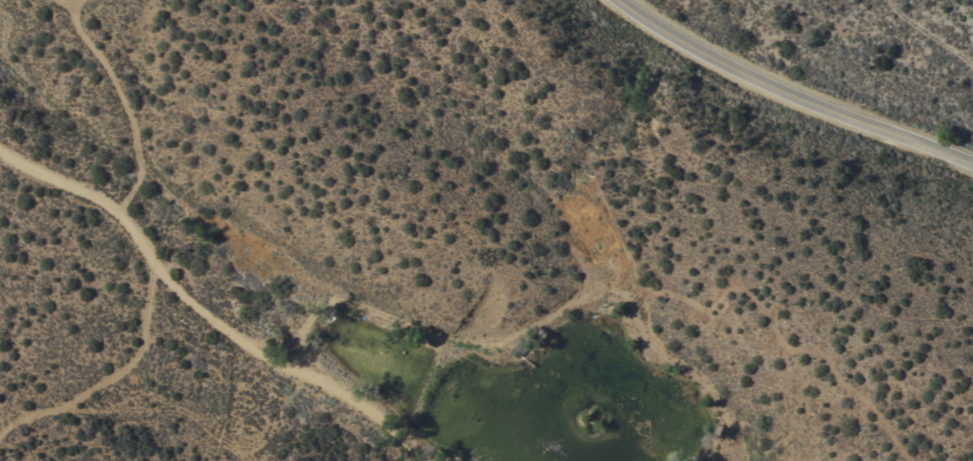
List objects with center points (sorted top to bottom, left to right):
road: (801, 100)
road: (373, 195)

